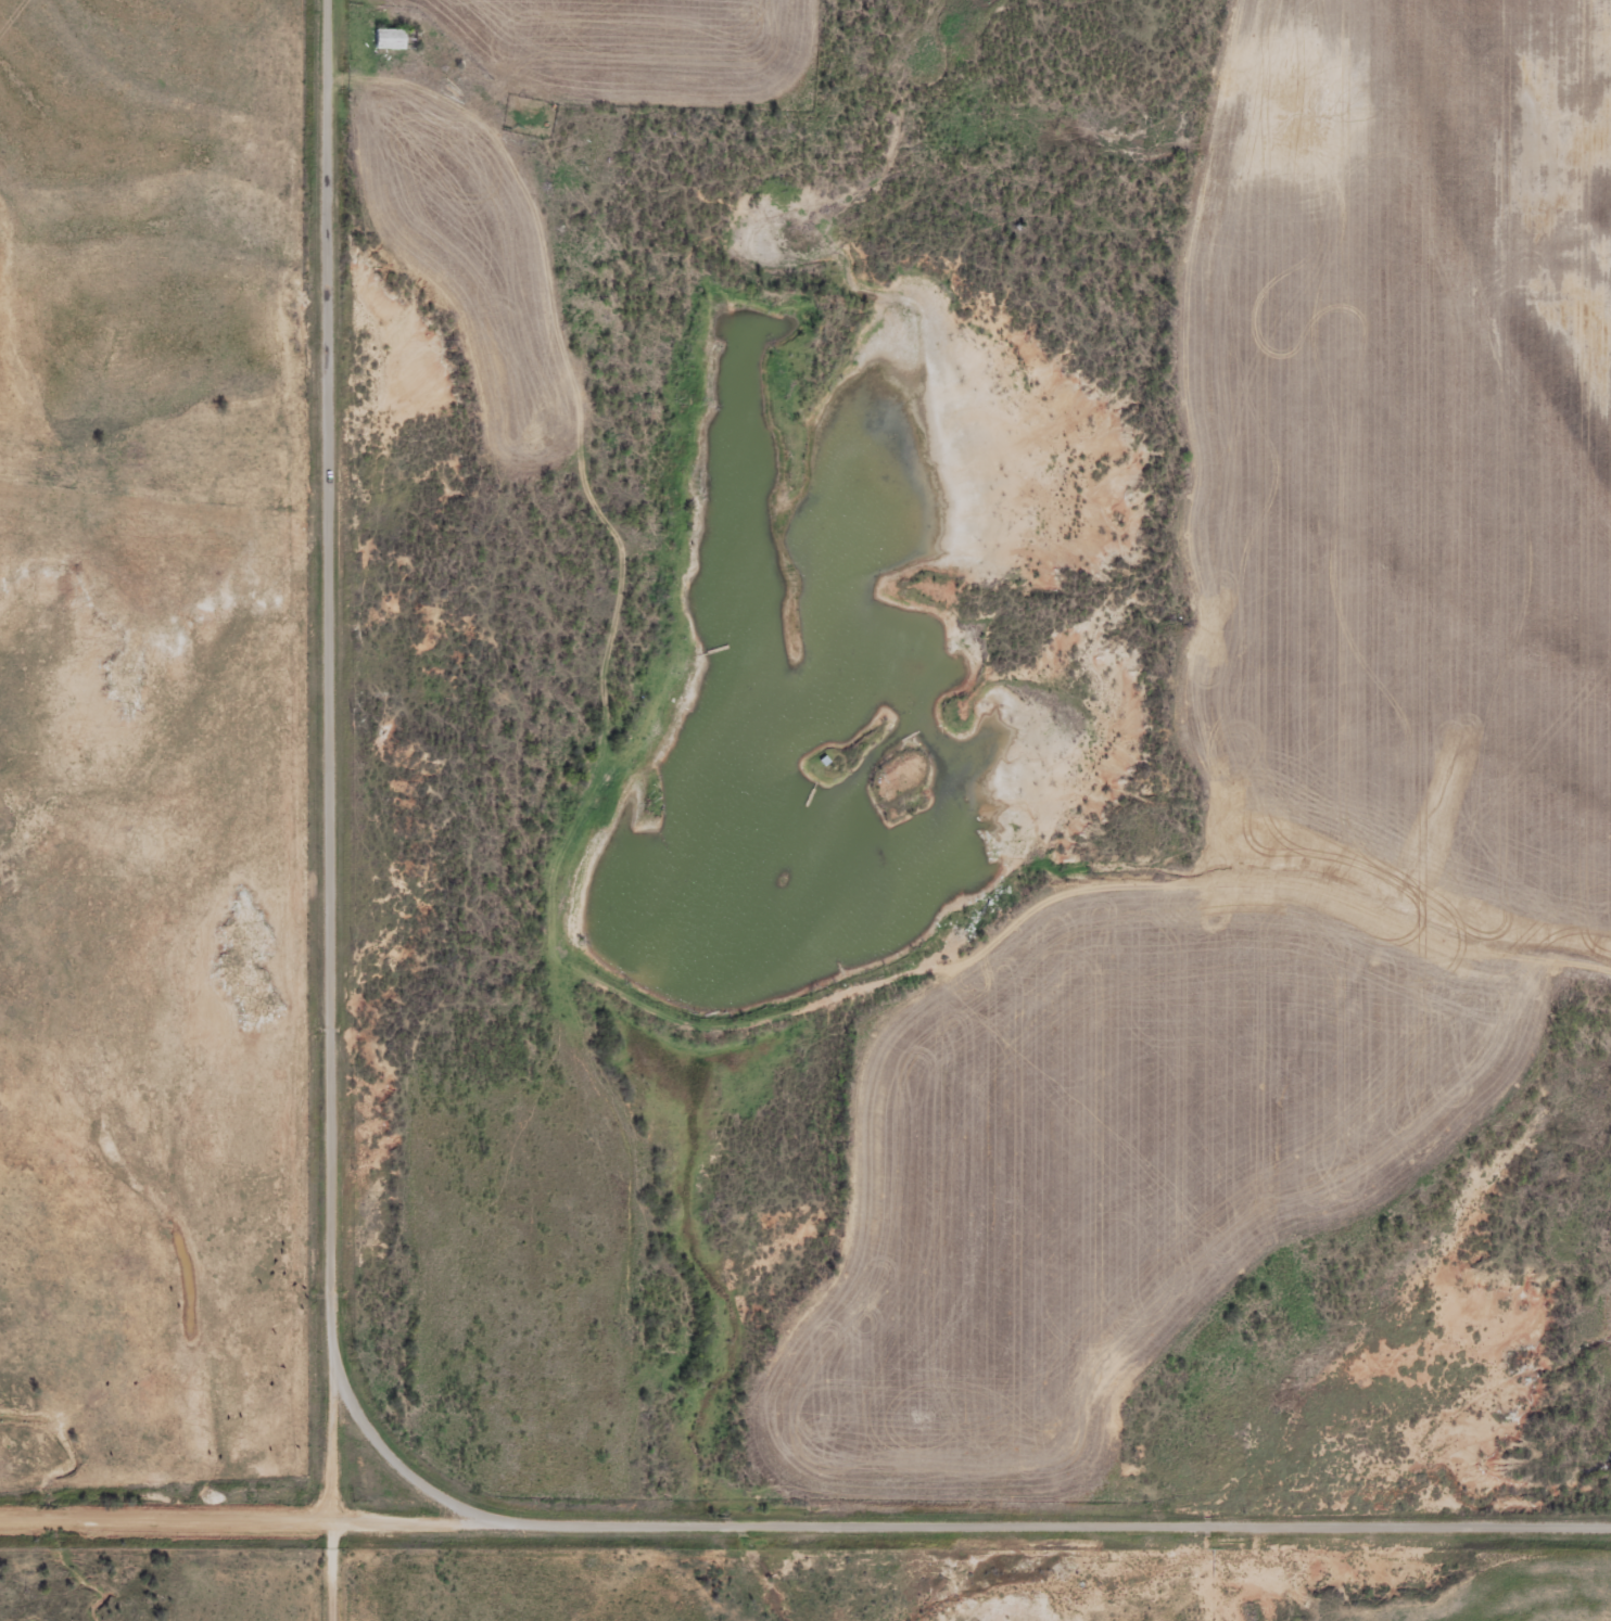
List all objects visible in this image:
building: (393, 41)
road: (333, 761)
road: (396, 1457)
road: (804, 1523)
road: (334, 1571)
road: (1271, 1573)

